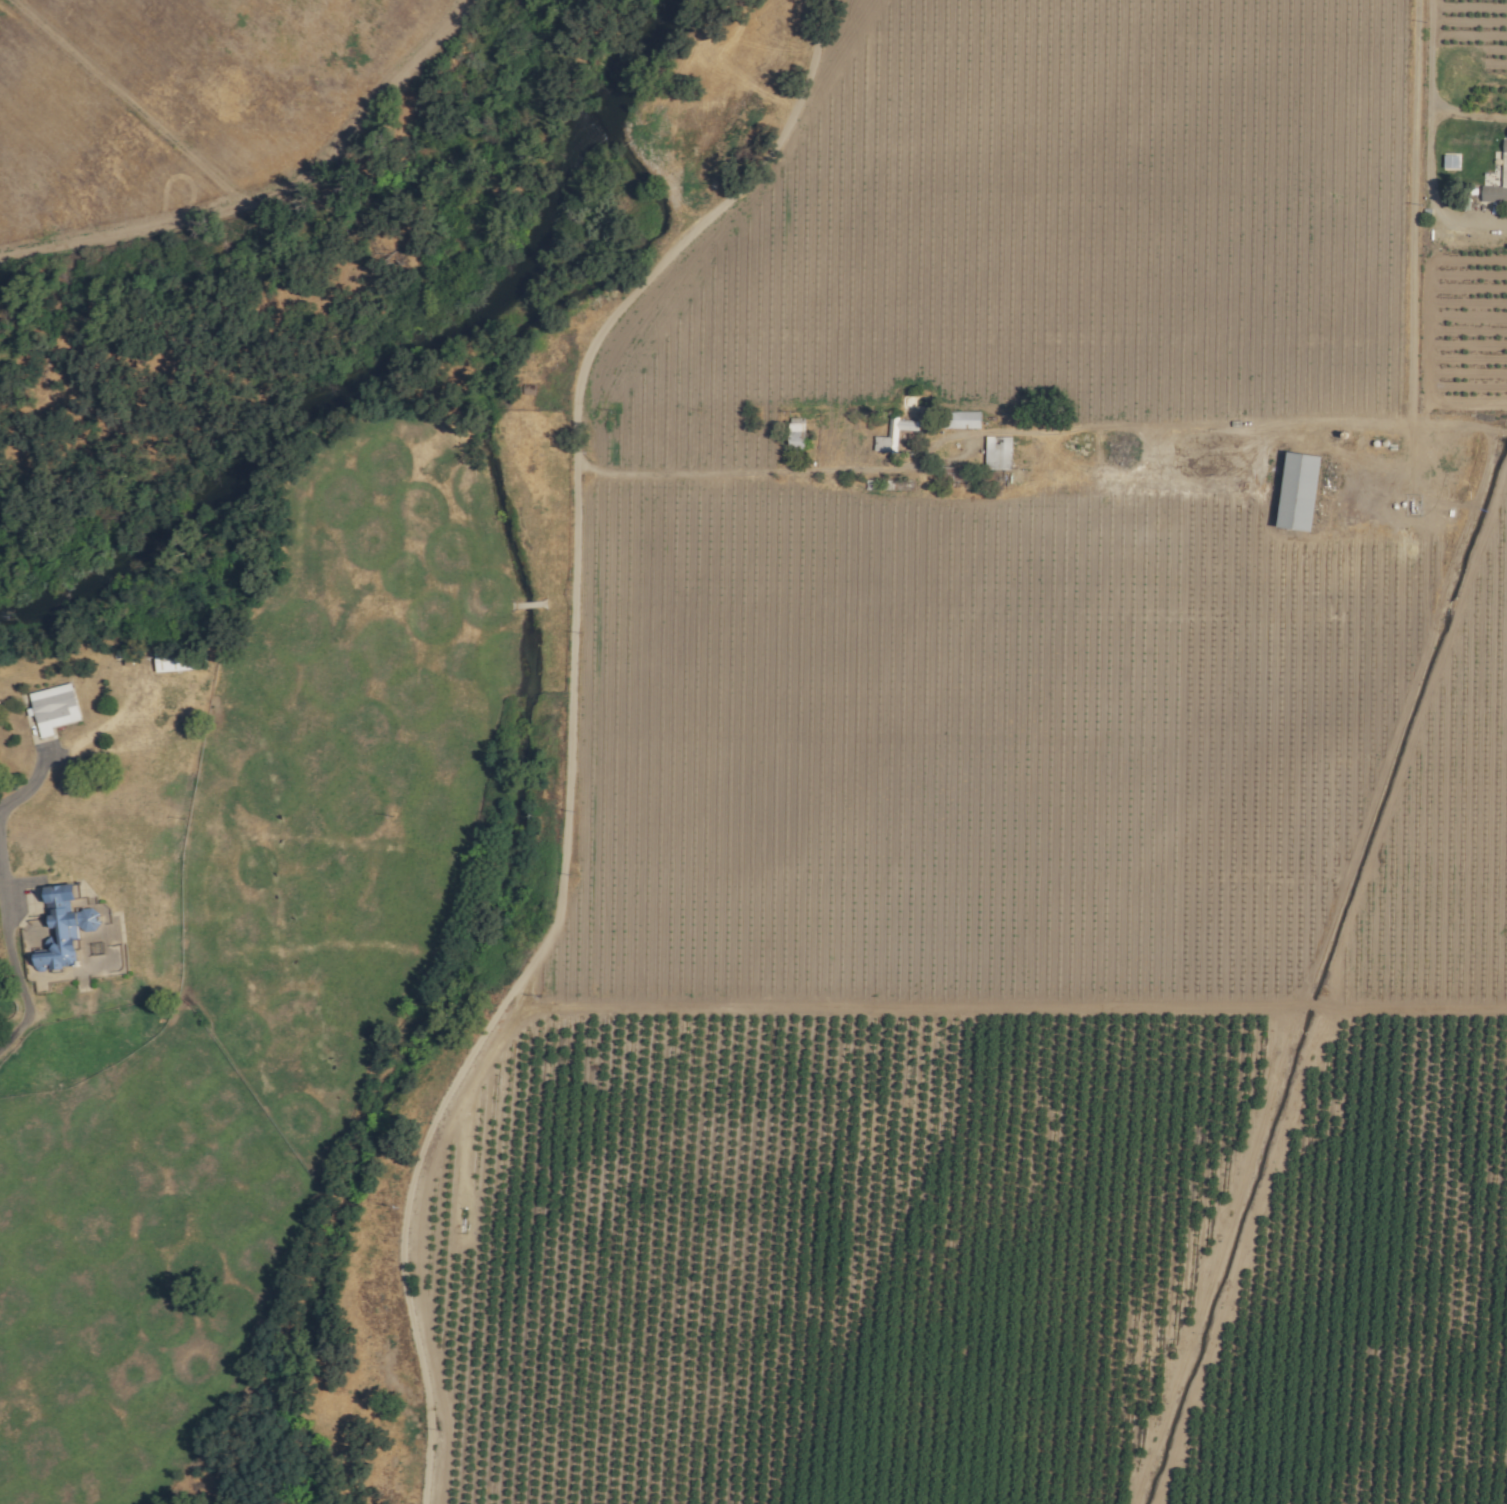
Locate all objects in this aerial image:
road: (1433, 50)
crop: (1475, 55)
crop: (169, 98)
road: (1416, 113)
road: (1468, 115)
river: (592, 152)
building: (1503, 177)
road: (1432, 192)
crop: (1468, 328)
road: (1411, 400)
building: (962, 420)
building: (794, 432)
building: (892, 434)
building: (996, 453)
road: (732, 470)
building: (954, 474)
river: (252, 482)
building: (1295, 491)
building: (51, 708)
road: (569, 730)
building: (60, 928)
road: (9, 953)
crop: (259, 986)
crop: (980, 1257)

